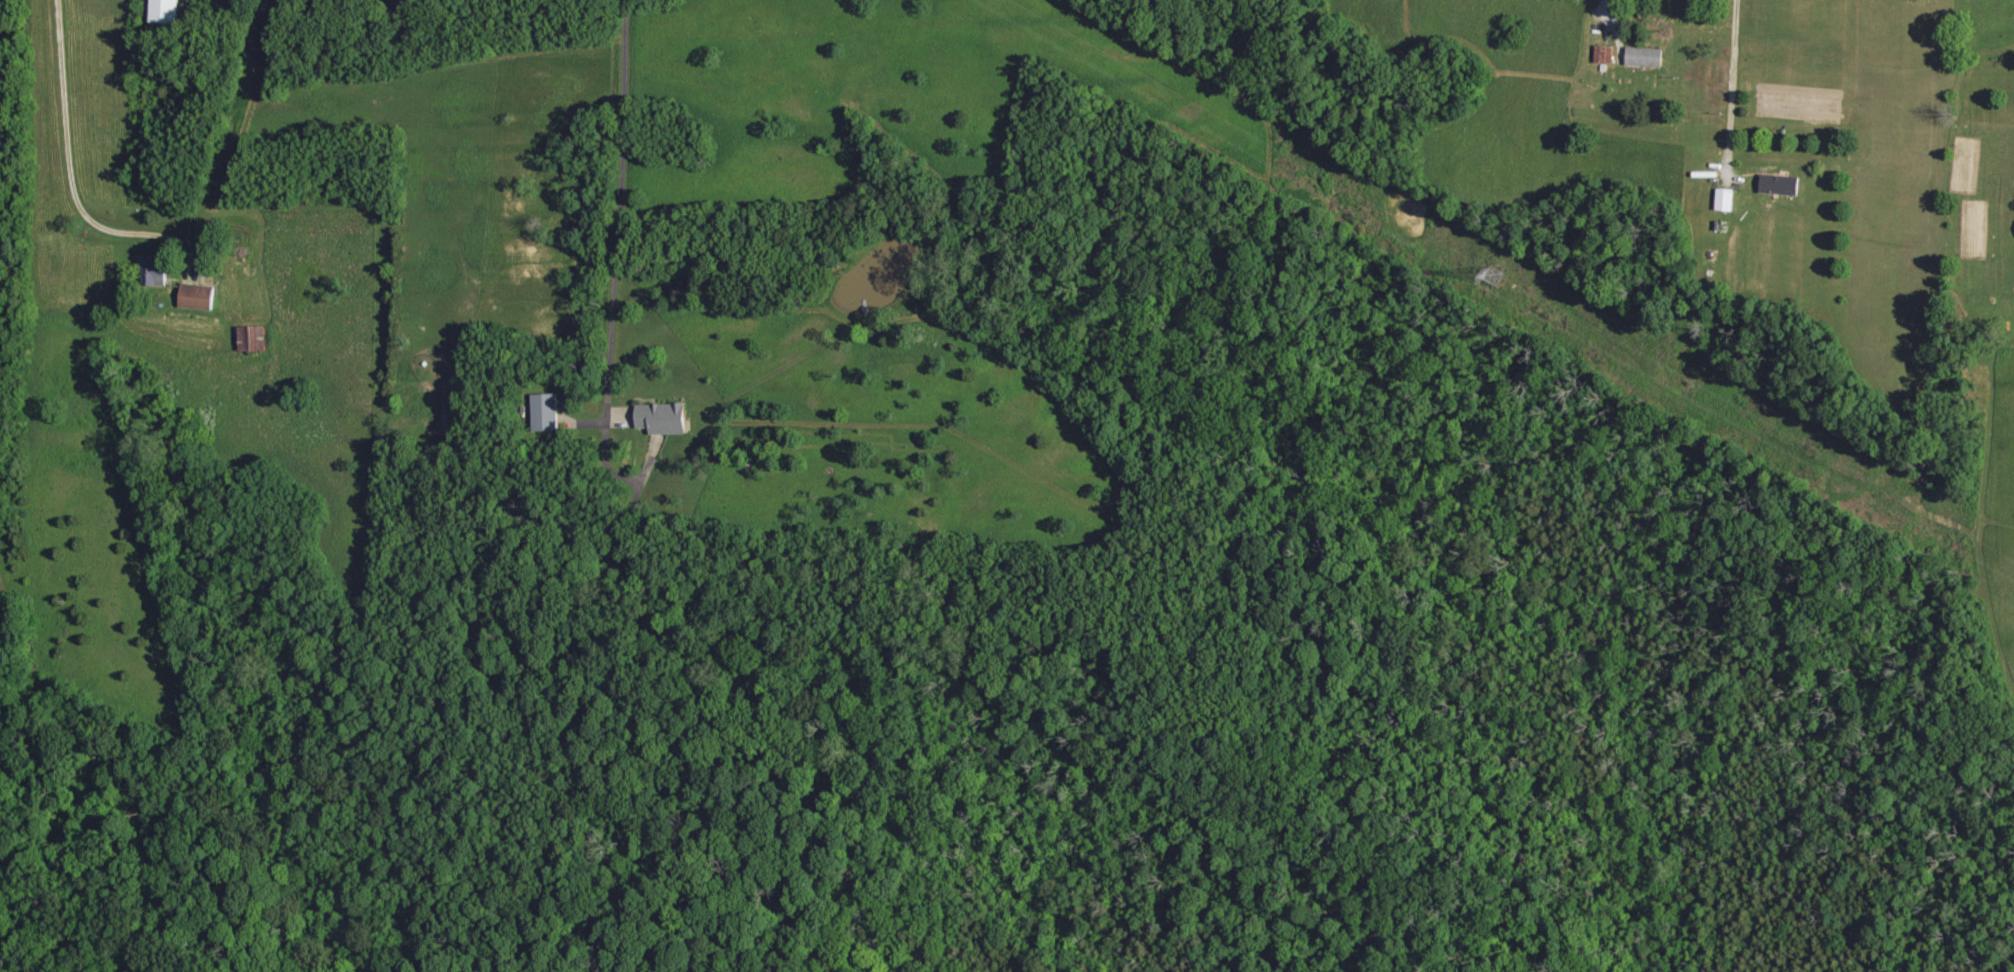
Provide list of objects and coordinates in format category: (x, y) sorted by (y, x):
building: (163, 11)
road: (1611, 25)
building: (1604, 55)
building: (1644, 57)
road: (1729, 82)
road: (65, 156)
building: (1779, 185)
building: (1725, 200)
building: (151, 272)
power tower: (1502, 274)
building: (196, 297)
building: (251, 339)
building: (544, 413)
building: (661, 418)

